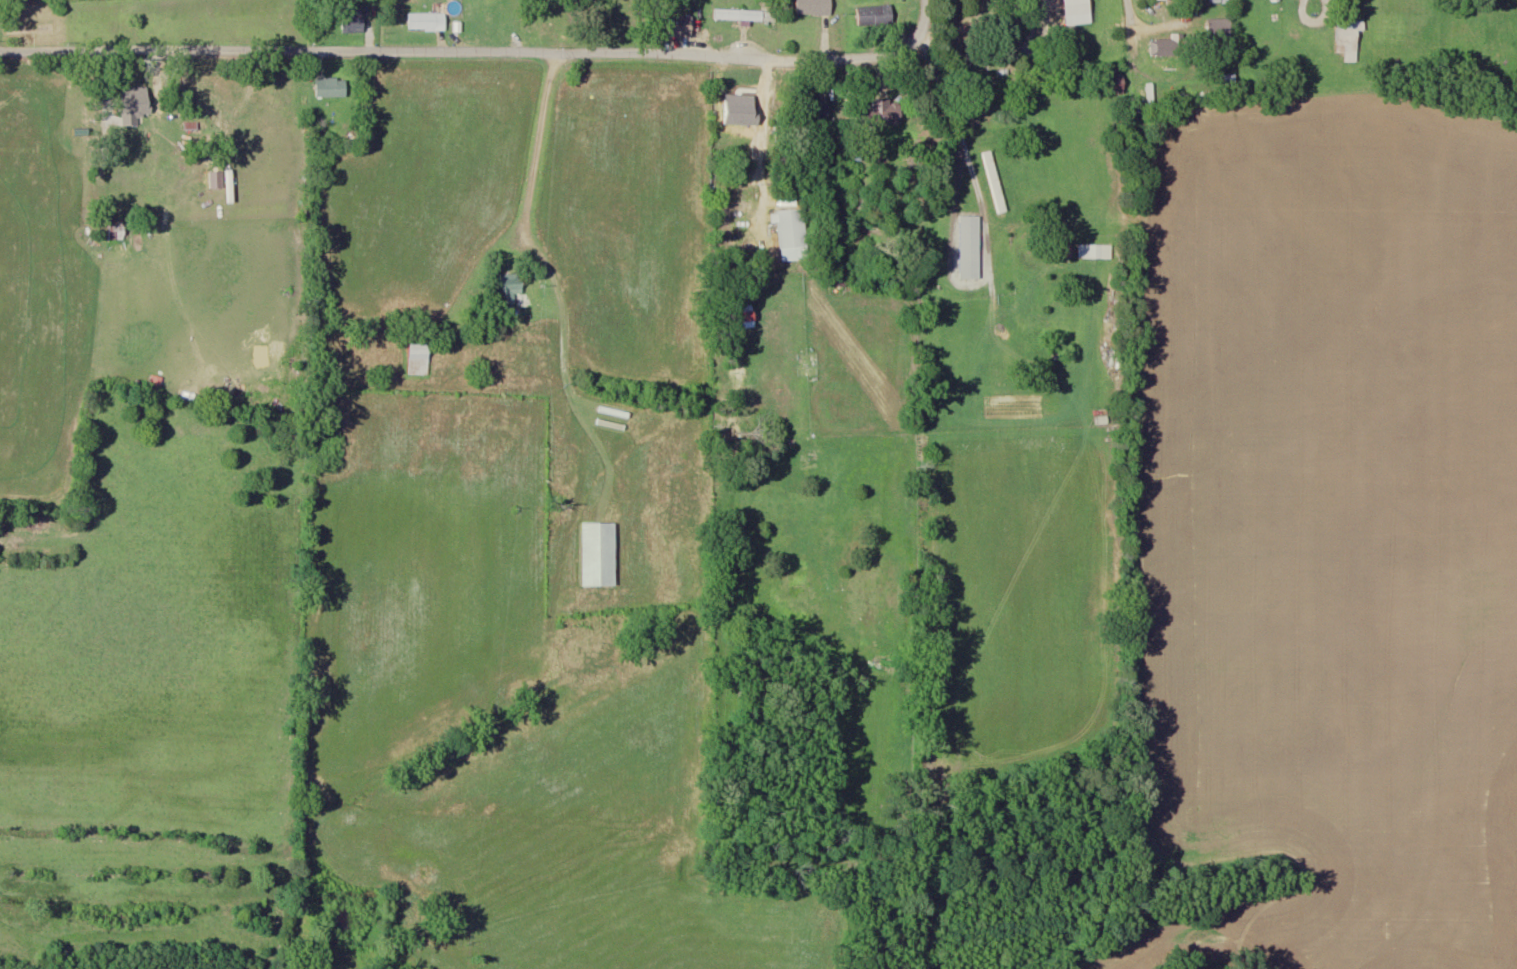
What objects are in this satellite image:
building: (1166, 0)
building: (814, 7)
building: (1073, 8)
road: (1127, 9)
building: (739, 15)
building: (876, 15)
building: (428, 21)
building: (354, 24)
building: (681, 26)
building: (1219, 29)
building: (1349, 38)
building: (1169, 46)
road: (480, 52)
building: (332, 87)
building: (136, 102)
building: (742, 103)
building: (814, 108)
building: (878, 113)
building: (194, 126)
building: (794, 230)
building: (117, 236)
building: (971, 248)
building: (511, 288)
building: (420, 347)
building: (595, 547)

